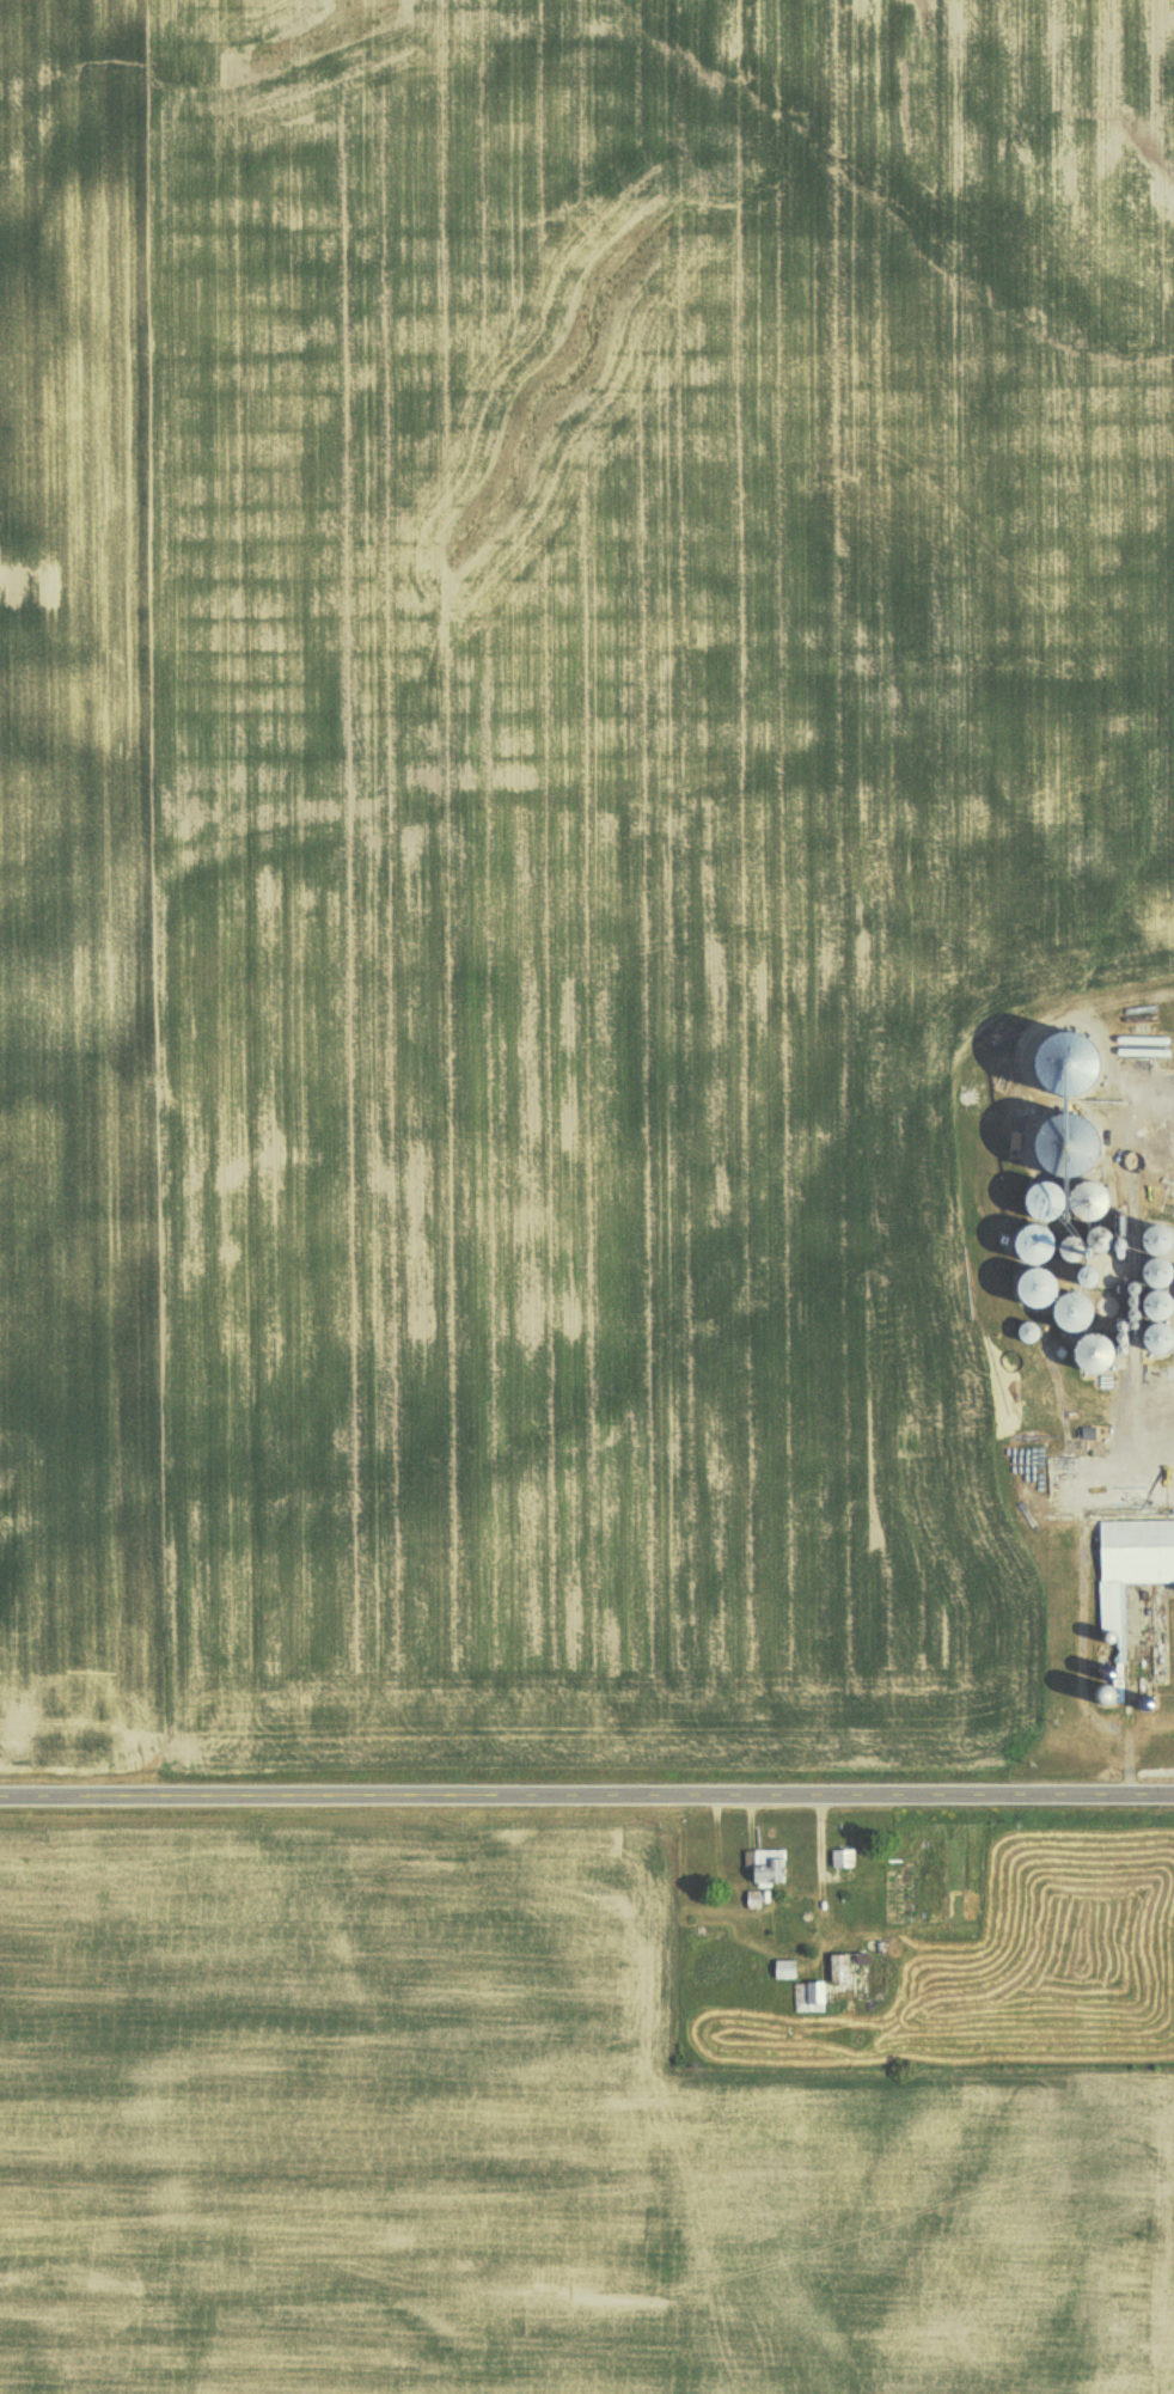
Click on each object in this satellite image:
crop: (554, 845)
building: (1133, 1555)
road: (587, 1795)
building: (842, 1857)
building: (765, 1864)
building: (838, 1967)
building: (783, 1968)
building: (808, 1996)
crop: (514, 2146)

